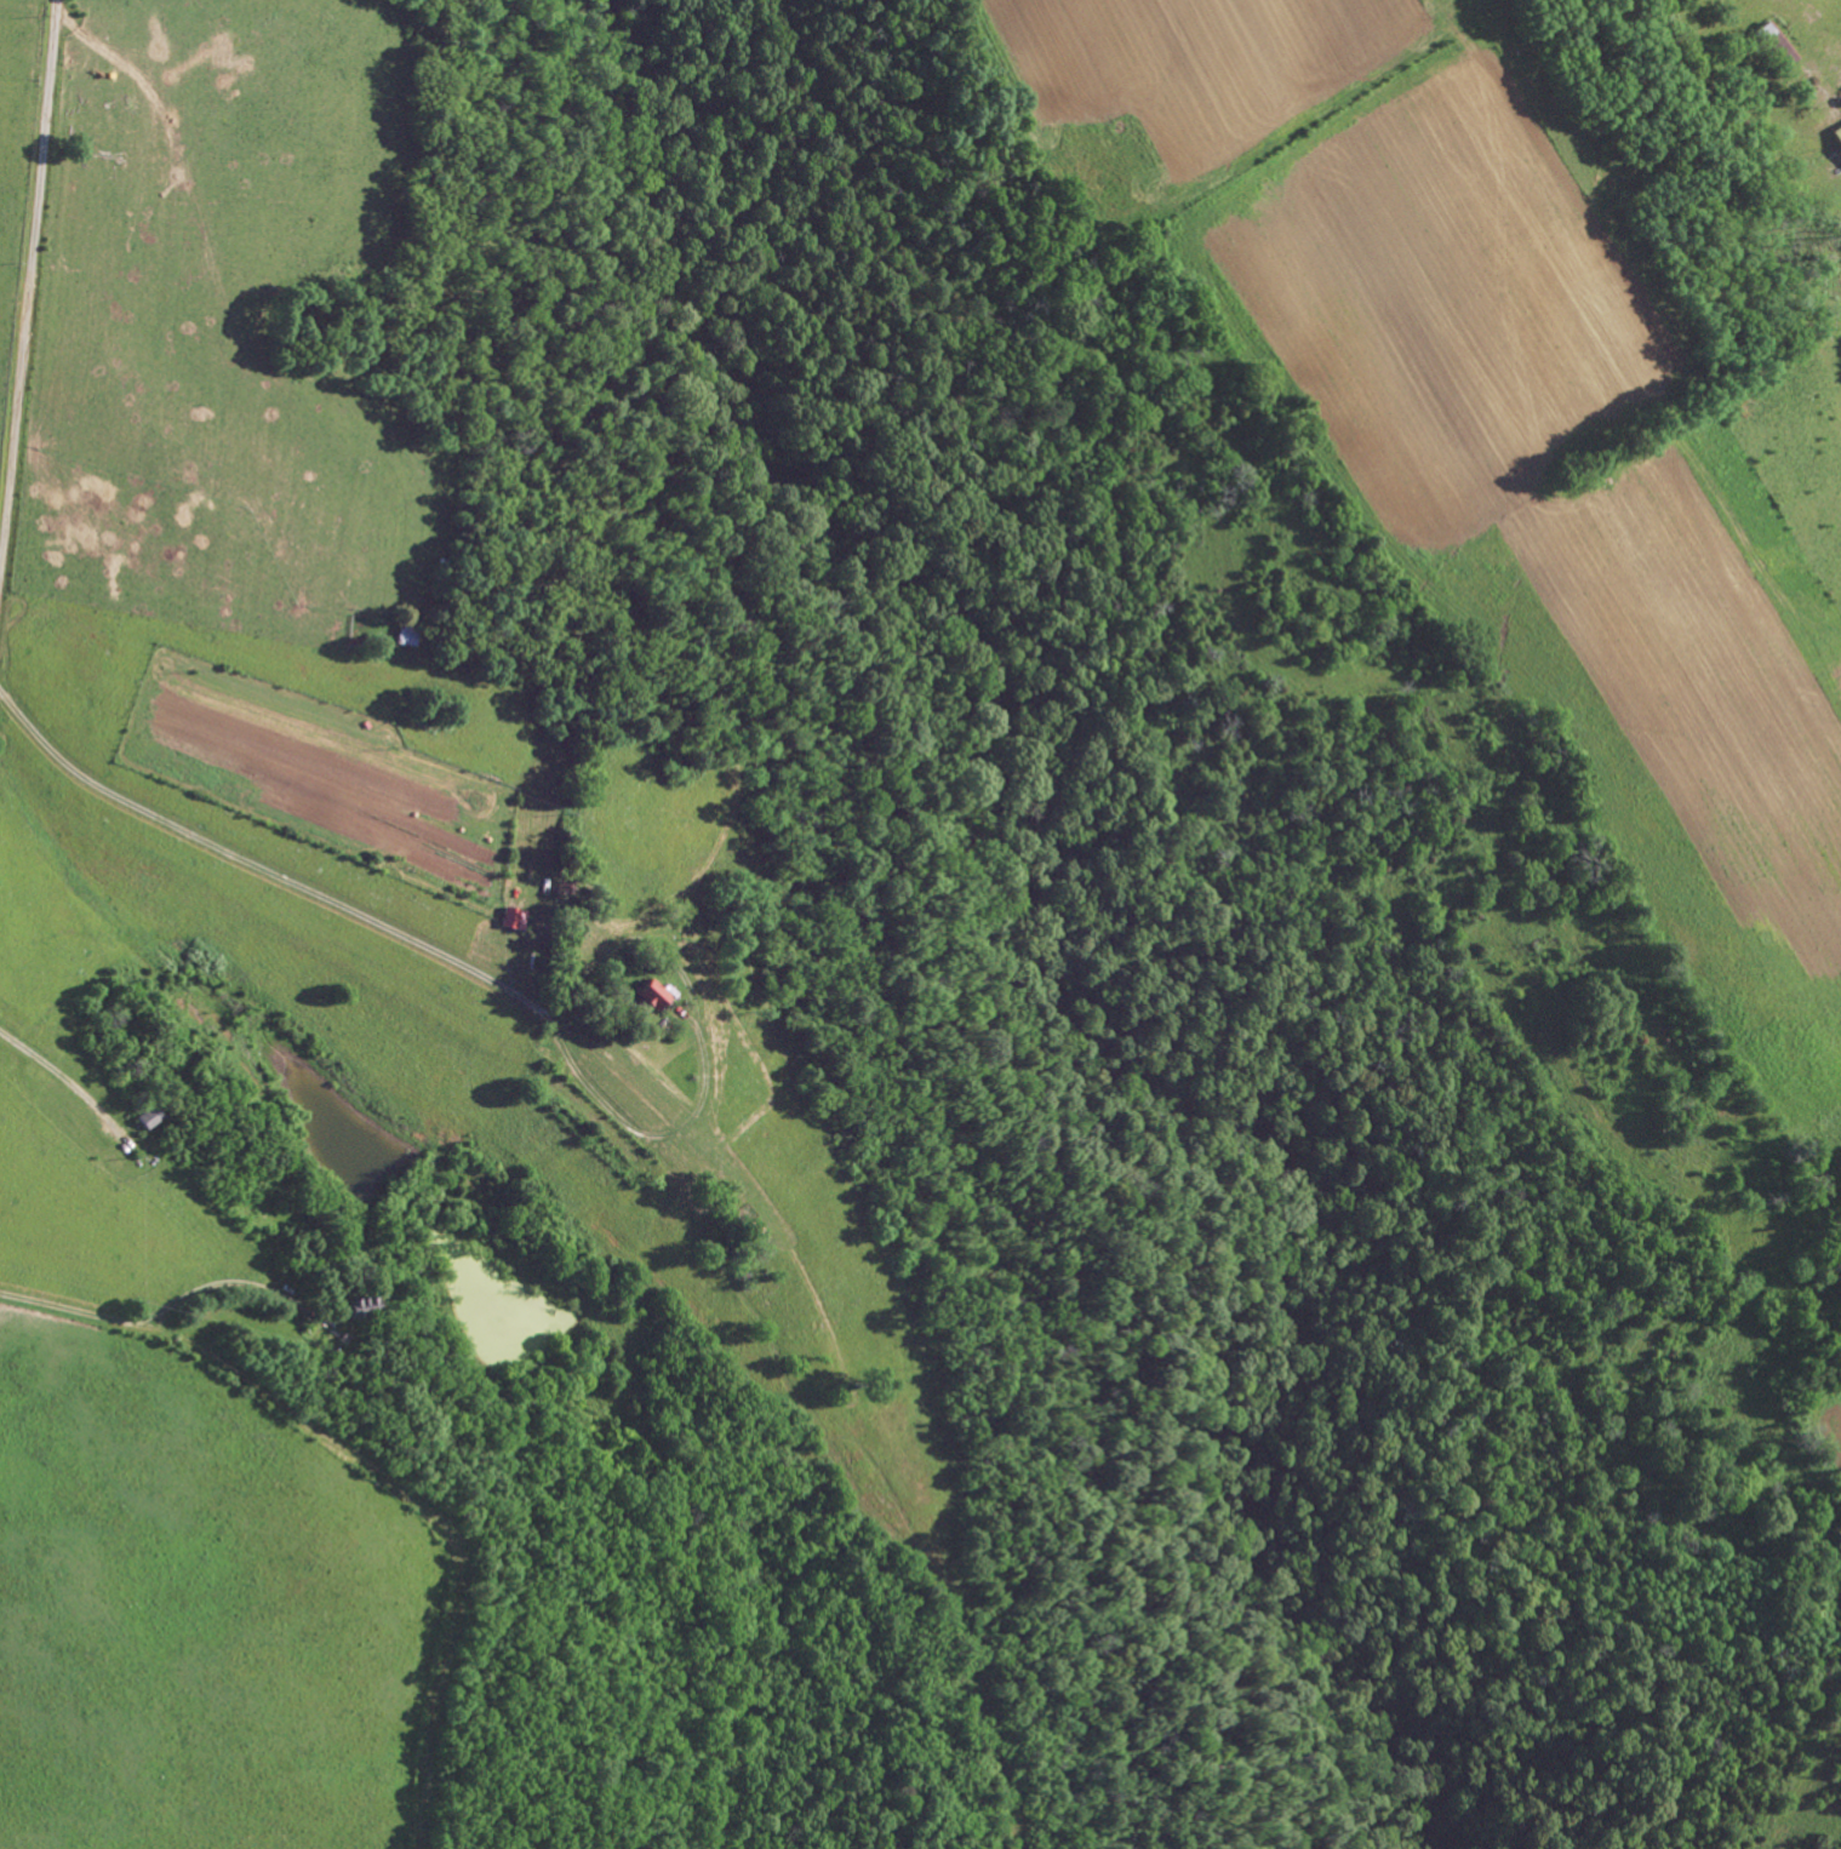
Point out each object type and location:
building: (1835, 137)
road: (32, 287)
building: (402, 637)
building: (510, 920)
building: (648, 996)
building: (143, 1120)

